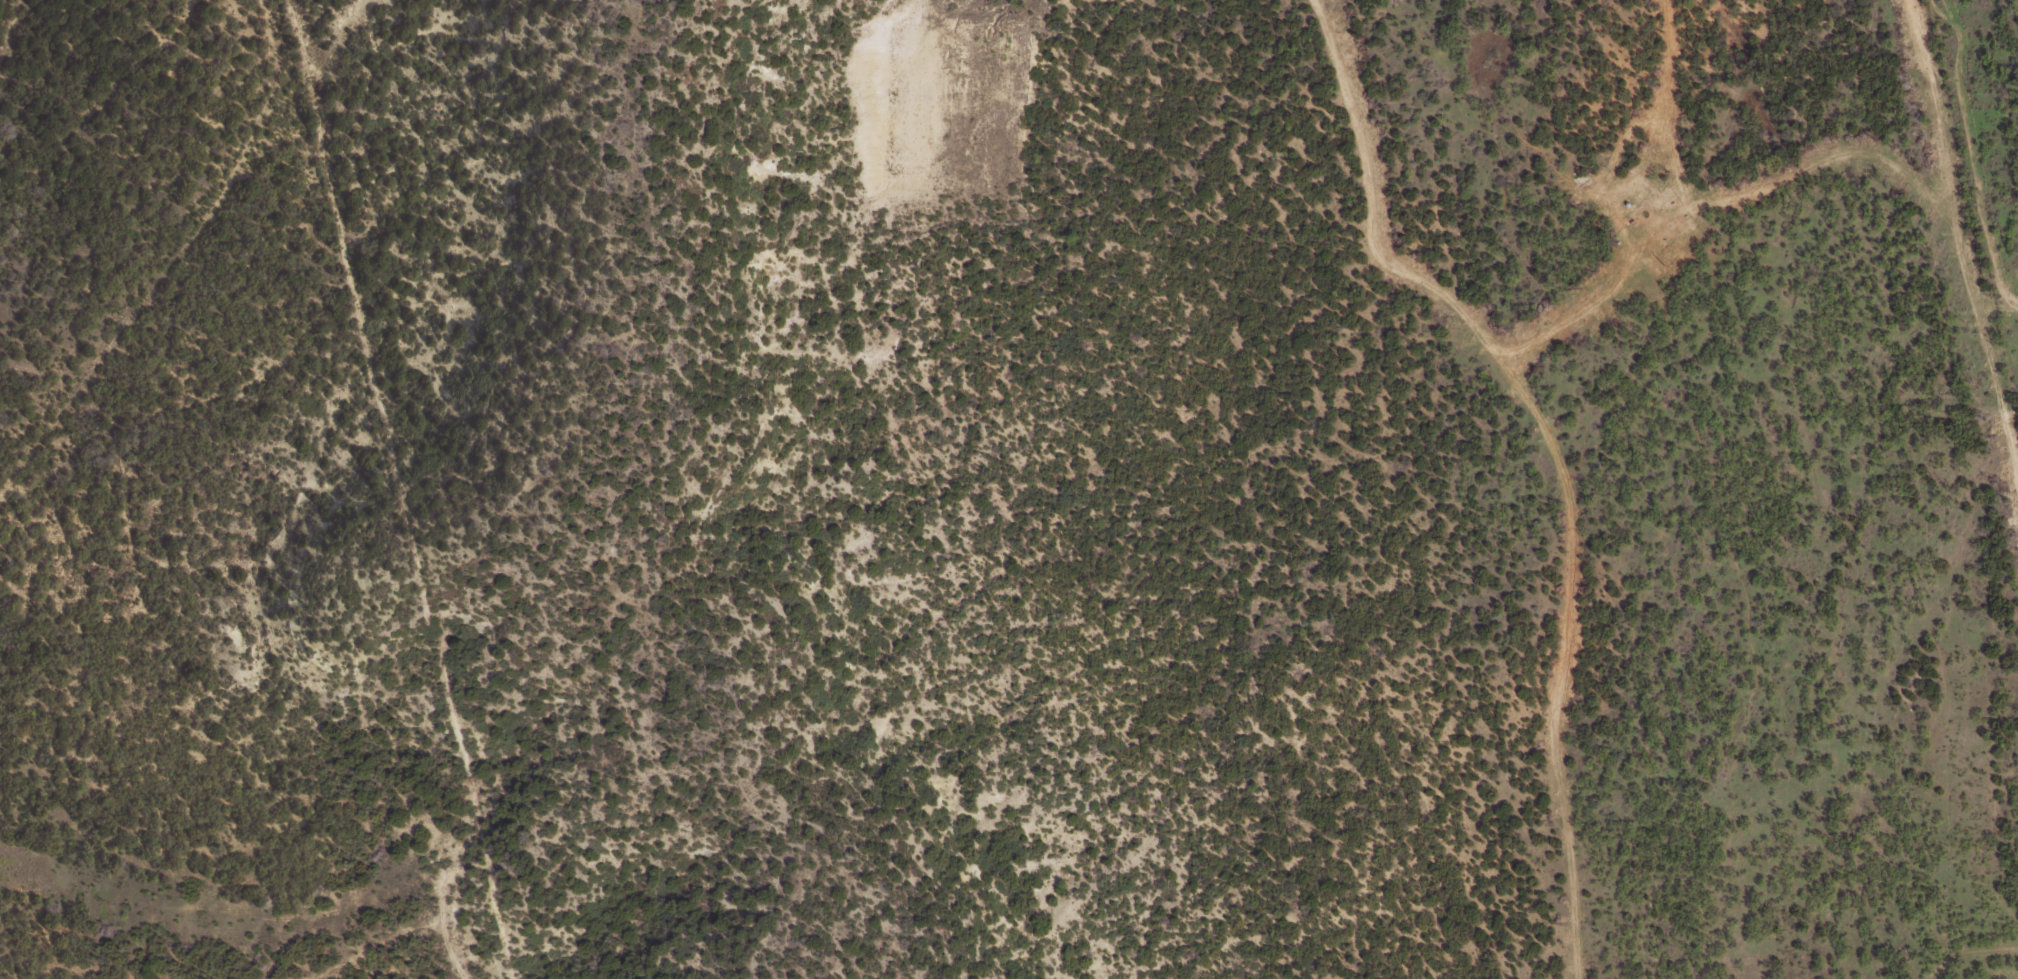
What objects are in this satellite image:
road: (1943, 151)
road: (2009, 277)
road: (2009, 293)
road: (1993, 388)
road: (1986, 949)

